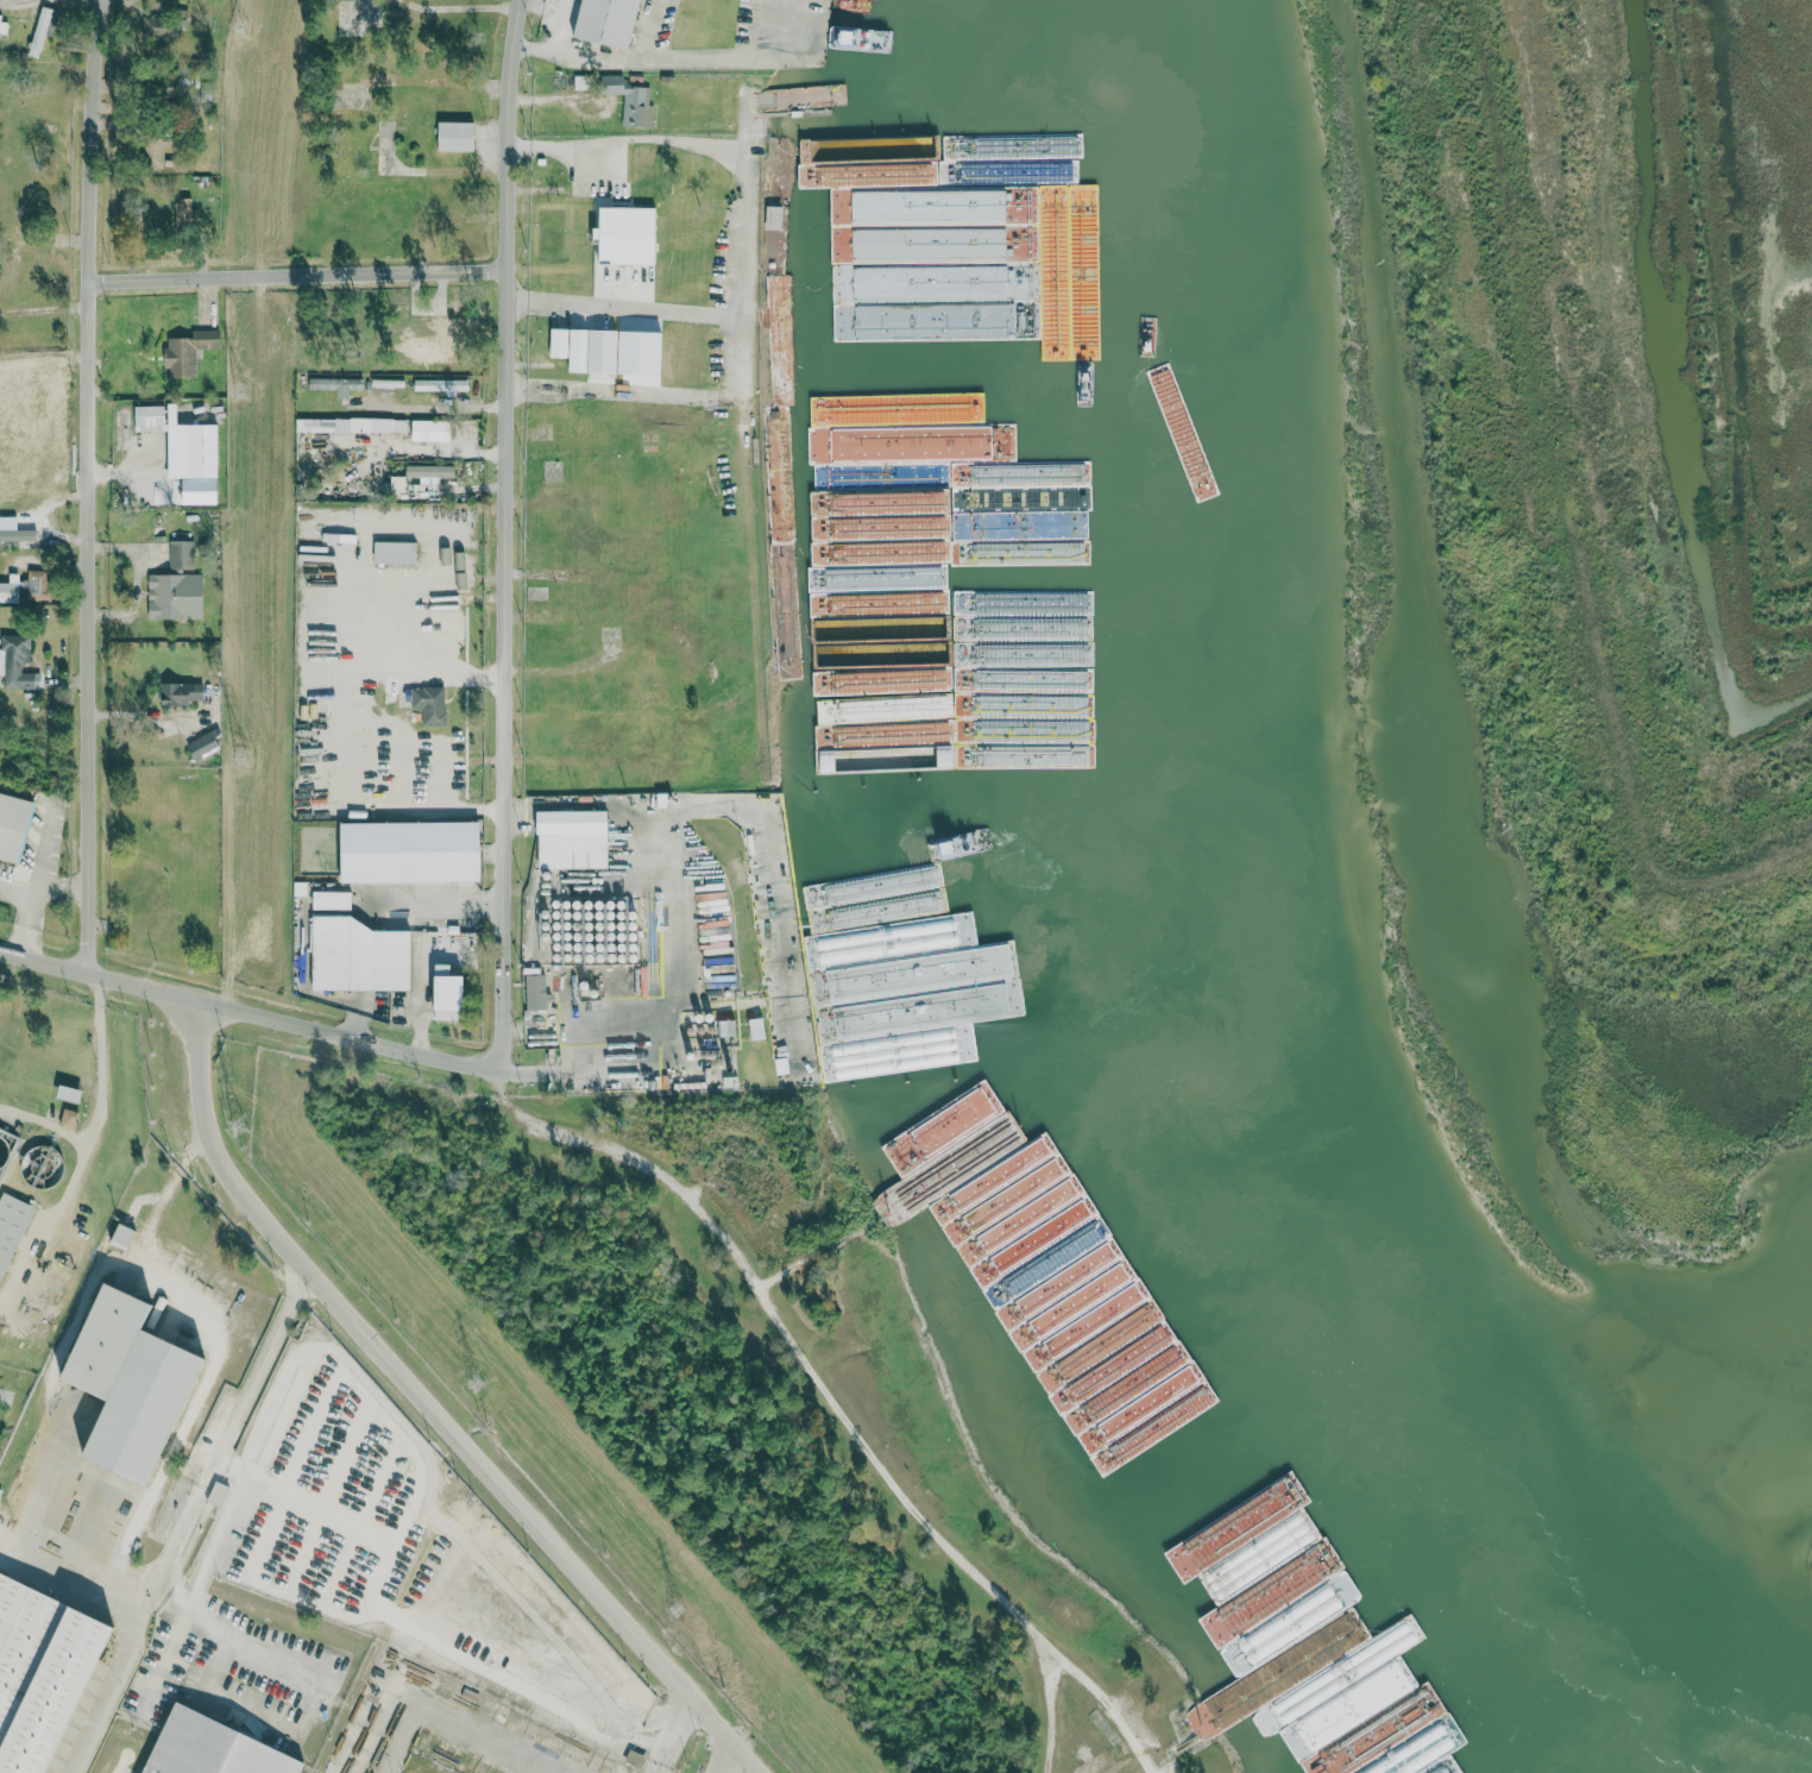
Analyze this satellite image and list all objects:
road: (1, 0)
road: (465, 6)
building: (609, 21)
building: (4, 25)
power tower: (239, 25)
building: (155, 27)
building: (39, 32)
road: (529, 48)
road: (682, 57)
building: (629, 100)
building: (457, 134)
road: (566, 144)
building: (152, 150)
building: (638, 171)
building: (187, 210)
building: (774, 216)
building: (627, 234)
road: (745, 266)
road: (302, 272)
building: (1050, 293)
building: (398, 307)
building: (442, 334)
building: (586, 348)
building: (188, 351)
building: (336, 384)
building: (441, 385)
road: (665, 394)
building: (149, 415)
building: (360, 425)
building: (430, 429)
building: (203, 449)
building: (430, 472)
building: (397, 483)
road: (89, 488)
building: (14, 530)
road: (515, 532)
building: (395, 552)
landfill: (1657, 570)
building: (26, 585)
building: (177, 585)
building: (15, 661)
building: (181, 693)
building: (430, 704)
building: (203, 746)
power tower: (244, 760)
building: (13, 824)
building: (573, 840)
building: (411, 851)
road: (56, 882)
road: (12, 889)
building: (332, 900)
road: (23, 925)
building: (361, 956)
building: (536, 992)
building: (449, 994)
road: (254, 1019)
building: (728, 1027)
building: (756, 1029)
road: (97, 1064)
building: (69, 1119)
road: (43, 1128)
wastewater plant: (59, 1146)
building: (1065, 1220)
building: (11, 1227)
road: (48, 1230)
building: (124, 1237)
building: (1021, 1250)
road: (156, 1316)
road: (329, 1356)
road: (810, 1368)
power tower: (479, 1378)
building: (133, 1384)
road: (433, 1408)
building: (218, 1494)
road: (181, 1521)
building: (1238, 1592)
power tower: (681, 1604)
road: (372, 1607)
road: (436, 1630)
road: (162, 1634)
building: (42, 1671)
road: (673, 1737)
road: (1134, 1739)
road: (479, 1741)
building: (212, 1747)
building: (635, 1759)
road: (728, 1761)

